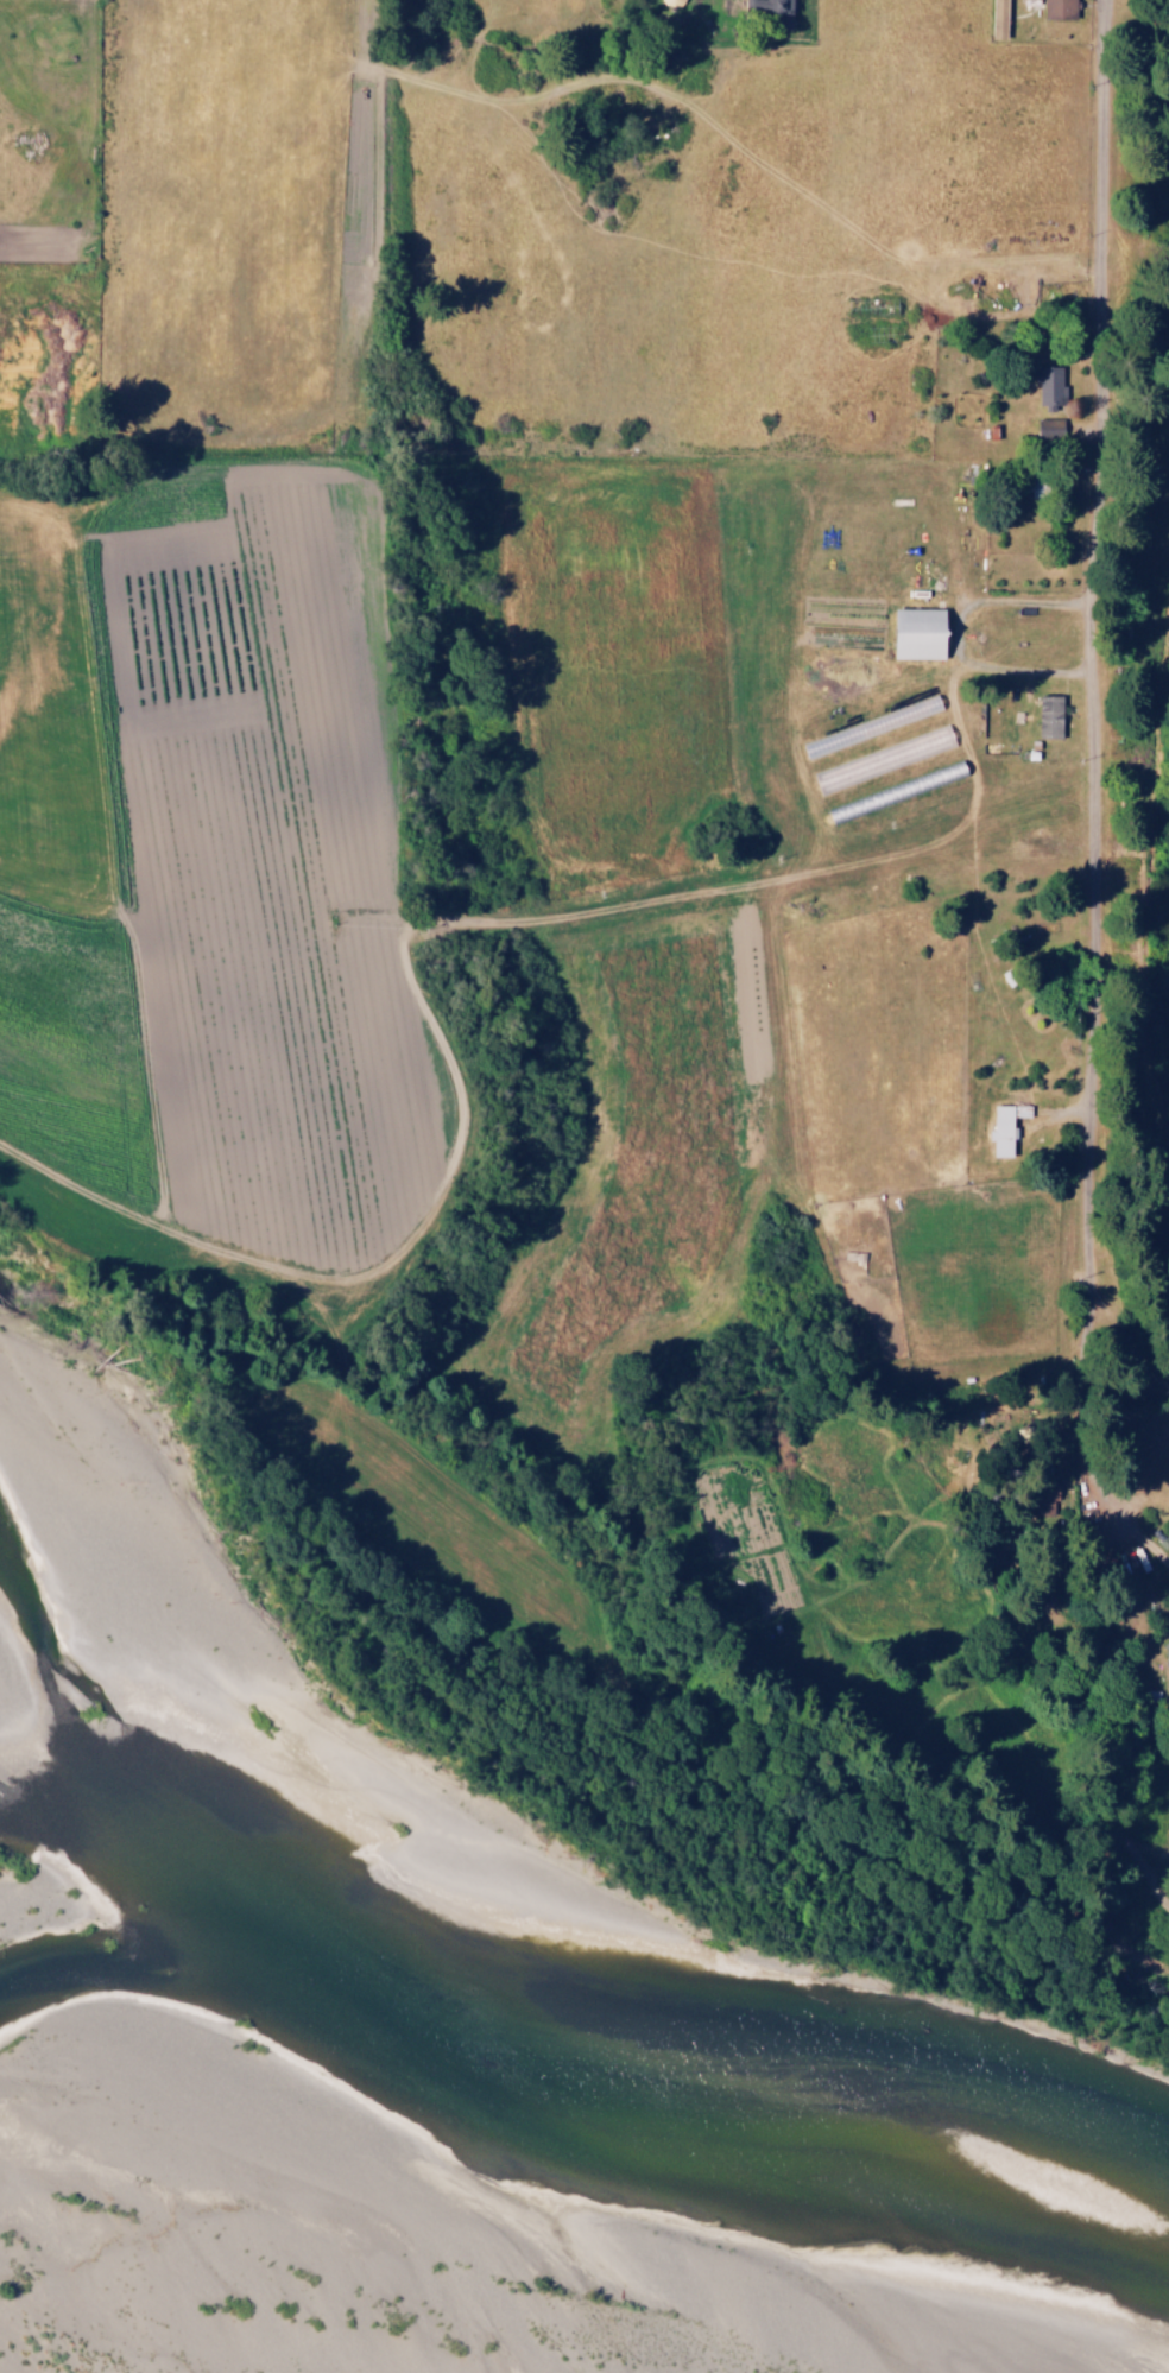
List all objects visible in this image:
building: (1059, 7)
building: (771, 11)
building: (996, 19)
building: (1048, 382)
building: (1047, 425)
road: (928, 449)
road: (690, 482)
building: (910, 633)
road: (1093, 639)
building: (1047, 715)
road: (953, 866)
road: (889, 1074)
building: (999, 1132)
road: (1095, 1206)
road: (1125, 1333)
road: (1152, 1871)
road: (1168, 1909)
road: (1098, 1958)
road: (794, 2094)
river: (545, 2308)

